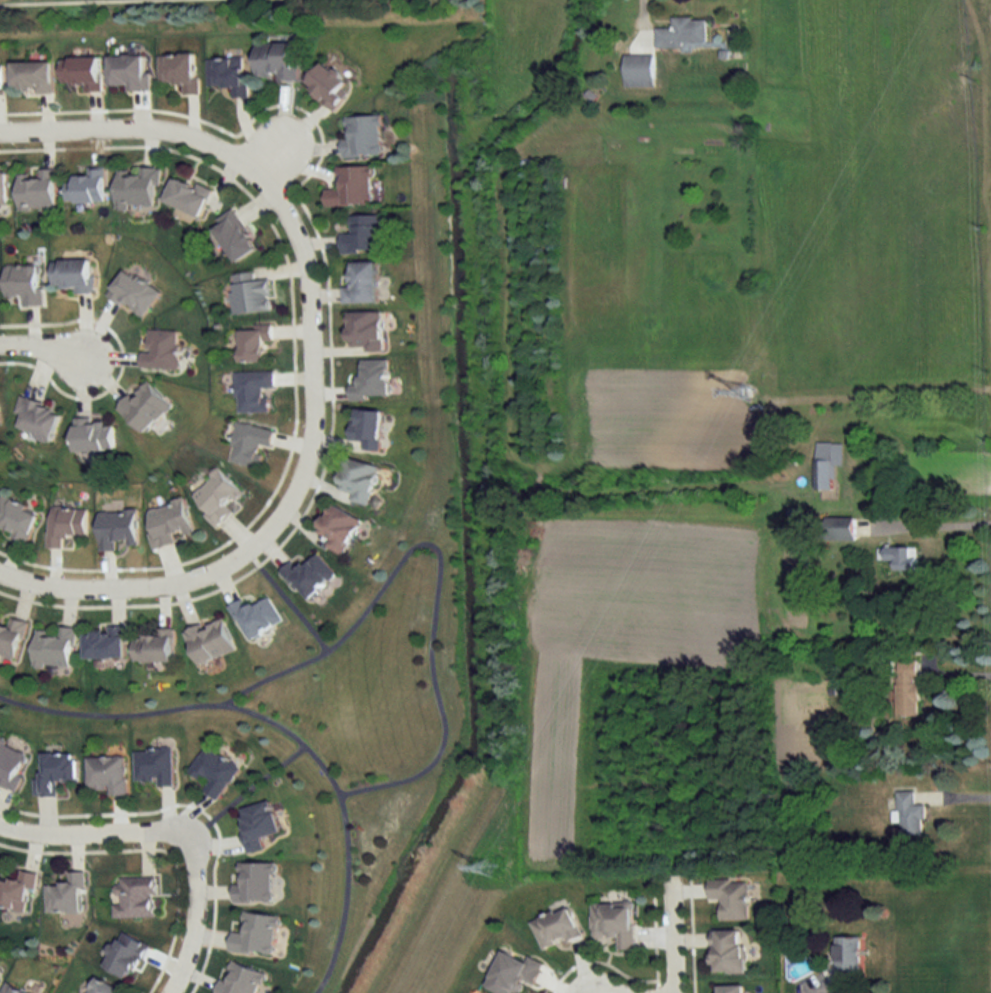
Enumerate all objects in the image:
building: (683, 34)
building: (276, 61)
building: (179, 71)
building: (82, 72)
building: (128, 72)
building: (639, 72)
building: (228, 74)
building: (32, 76)
building: (1, 77)
building: (326, 84)
building: (362, 135)
road: (131, 136)
building: (86, 187)
building: (351, 187)
building: (3, 188)
building: (137, 188)
building: (37, 190)
building: (187, 196)
building: (362, 235)
building: (234, 237)
building: (73, 275)
building: (361, 283)
building: (24, 284)
building: (134, 293)
building: (249, 294)
building: (364, 331)
building: (254, 344)
building: (161, 349)
road: (45, 352)
building: (372, 381)
building: (253, 392)
power tower: (747, 394)
road: (312, 401)
building: (144, 406)
building: (36, 418)
crop: (667, 422)
building: (366, 430)
building: (93, 434)
building: (249, 443)
building: (825, 464)
building: (357, 480)
building: (216, 496)
building: (16, 518)
building: (169, 522)
building: (65, 525)
road: (939, 525)
building: (338, 528)
building: (117, 529)
building: (839, 529)
building: (899, 557)
building: (308, 576)
road: (433, 582)
road: (94, 597)
road: (285, 610)
building: (256, 616)
crop: (619, 630)
building: (11, 637)
building: (209, 641)
building: (104, 643)
building: (54, 647)
building: (152, 647)
road: (957, 673)
building: (906, 688)
road: (277, 739)
building: (11, 764)
building: (154, 766)
building: (55, 771)
building: (214, 771)
building: (106, 774)
road: (242, 805)
building: (909, 815)
building: (257, 824)
road: (92, 840)
power tower: (495, 870)
building: (254, 882)
building: (17, 892)
building: (66, 896)
building: (135, 897)
building: (729, 898)
building: (614, 923)
road: (196, 925)
building: (554, 928)
road: (674, 934)
building: (255, 935)
building: (728, 952)
building: (847, 954)
building: (124, 956)
building: (512, 973)
building: (239, 979)
building: (102, 987)
building: (10, 989)
building: (729, 989)

